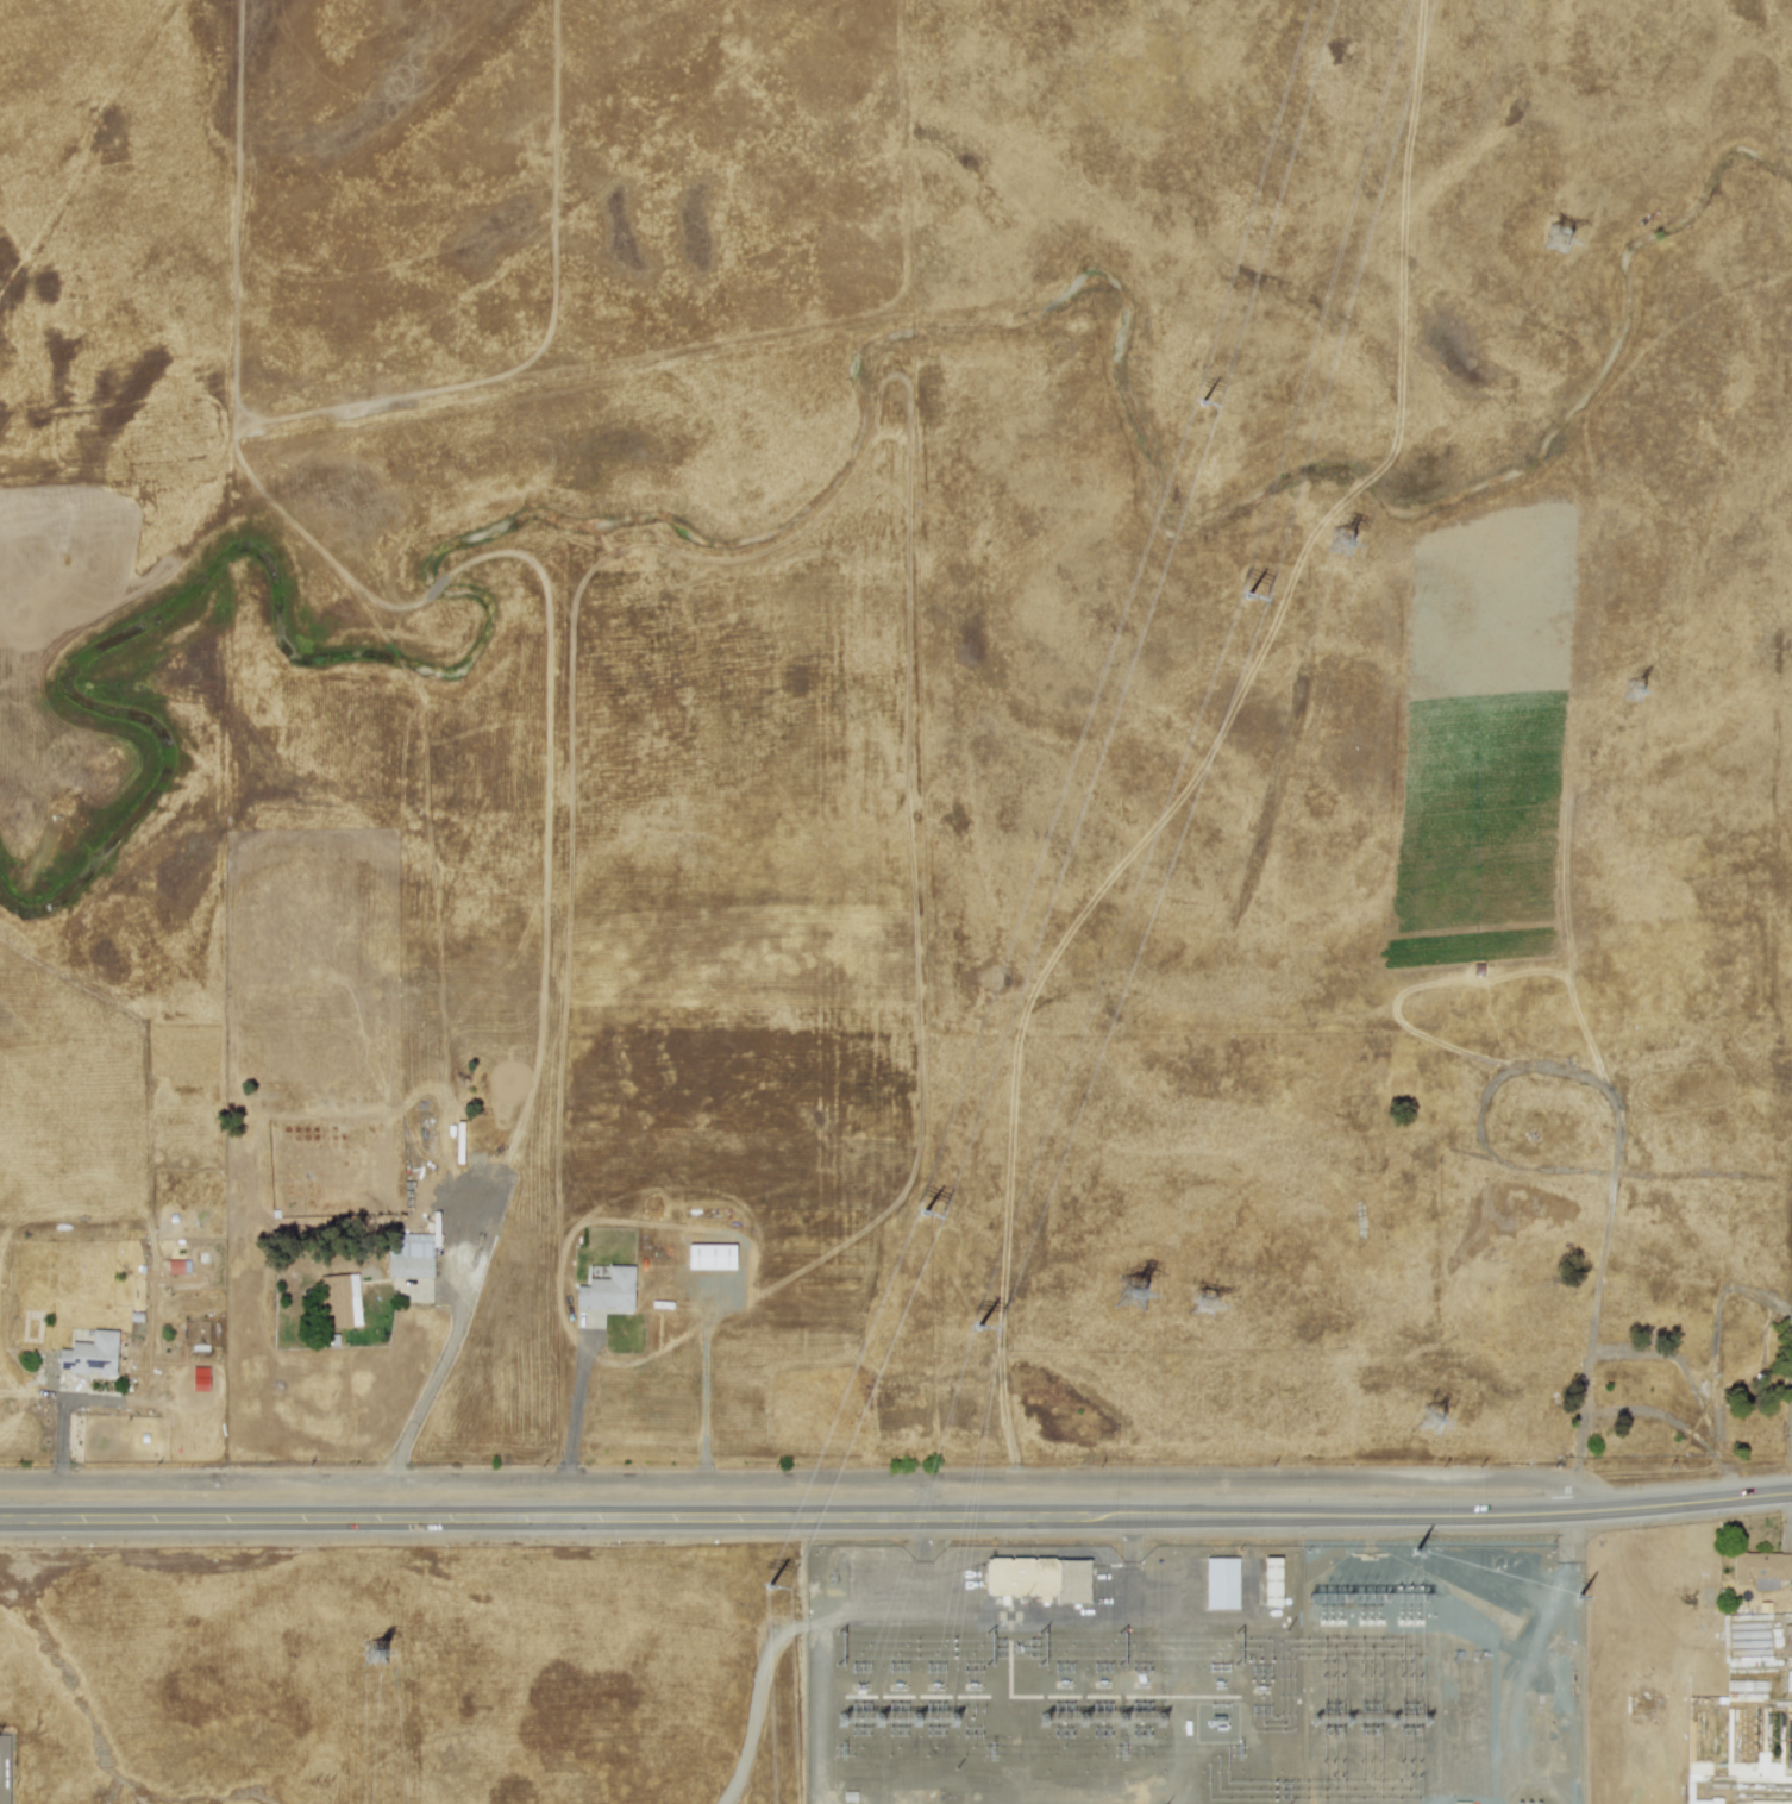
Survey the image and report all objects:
power tower: (1558, 242)
power tower: (1341, 544)
power tower: (1634, 694)
building: (409, 1255)
building: (710, 1257)
building: (607, 1290)
power tower: (1132, 1296)
building: (339, 1298)
power tower: (1203, 1305)
building: (90, 1354)
road: (706, 1382)
road: (428, 1385)
road: (577, 1404)
power tower: (1431, 1423)
road: (806, 1479)
road: (896, 1518)
building: (1759, 1570)
building: (1038, 1578)
building: (1271, 1580)
building: (1220, 1583)
power tower: (1330, 1599)
power tower: (1368, 1601)
power tower: (1408, 1601)
power tower: (376, 1655)
power substation: (1058, 1675)
power substation: (1446, 1675)
building: (1788, 1680)
road: (758, 1700)
building: (1639, 1708)
power tower: (1148, 1721)
power tower: (1108, 1722)
power tower: (902, 1723)
power tower: (941, 1723)
power tower: (1071, 1723)
power tower: (869, 1725)
building: (1748, 1769)

